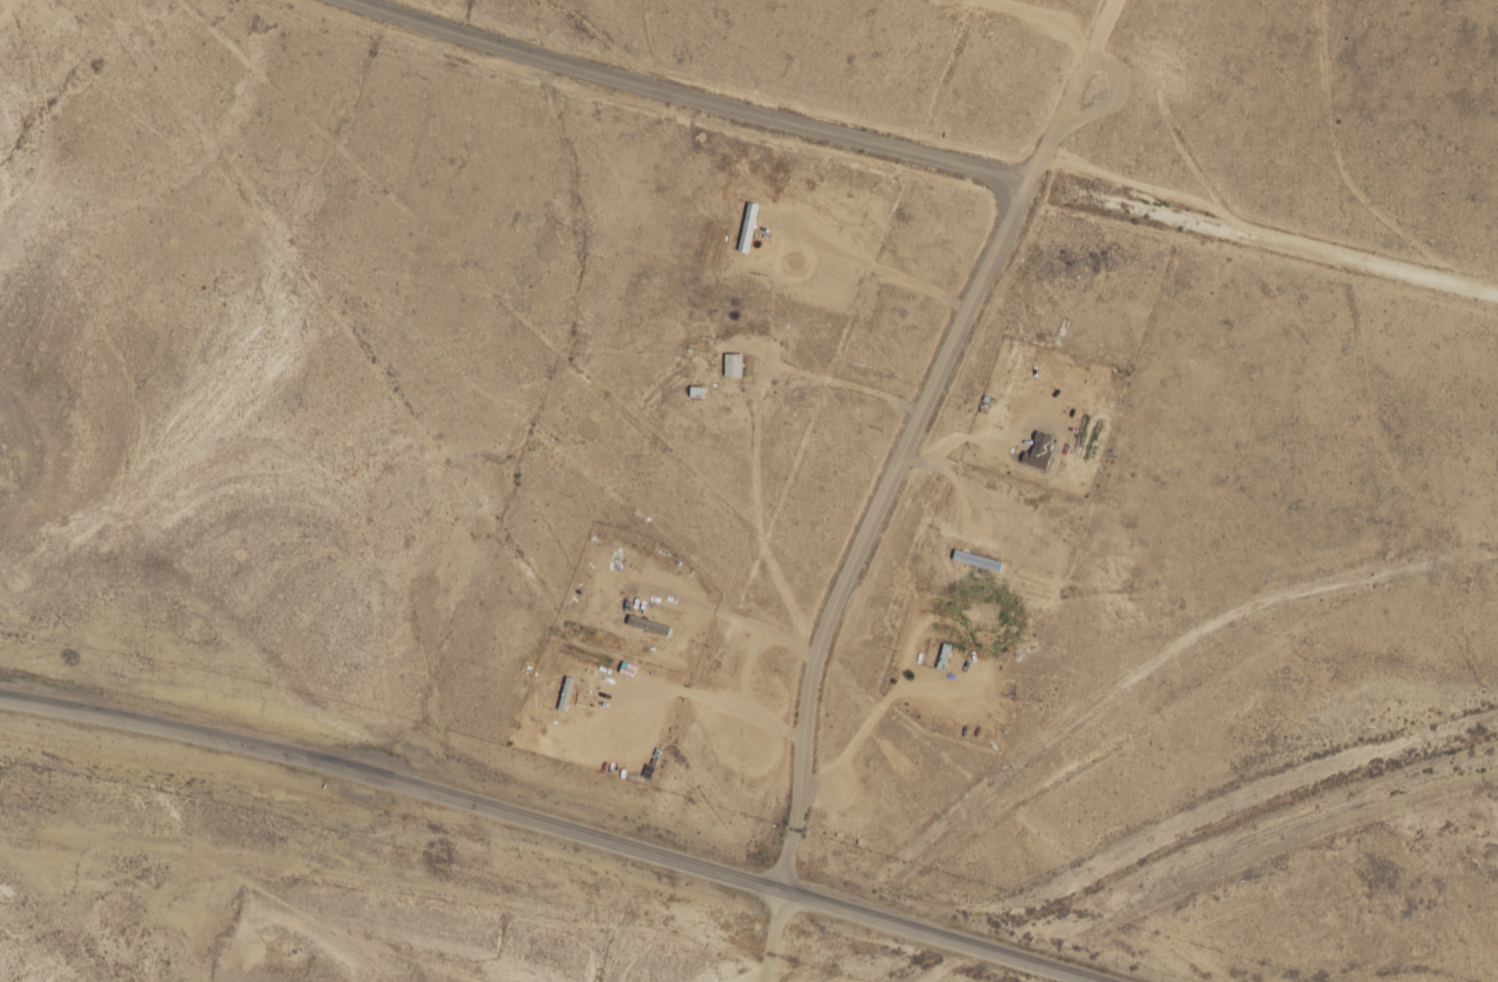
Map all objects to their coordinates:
road: (13, 22)
road: (1075, 90)
road: (693, 98)
building: (748, 227)
road: (1263, 238)
building: (733, 365)
building: (1022, 410)
road: (875, 526)
building: (650, 626)
building: (944, 656)
building: (567, 687)
road: (552, 824)
road: (773, 936)

